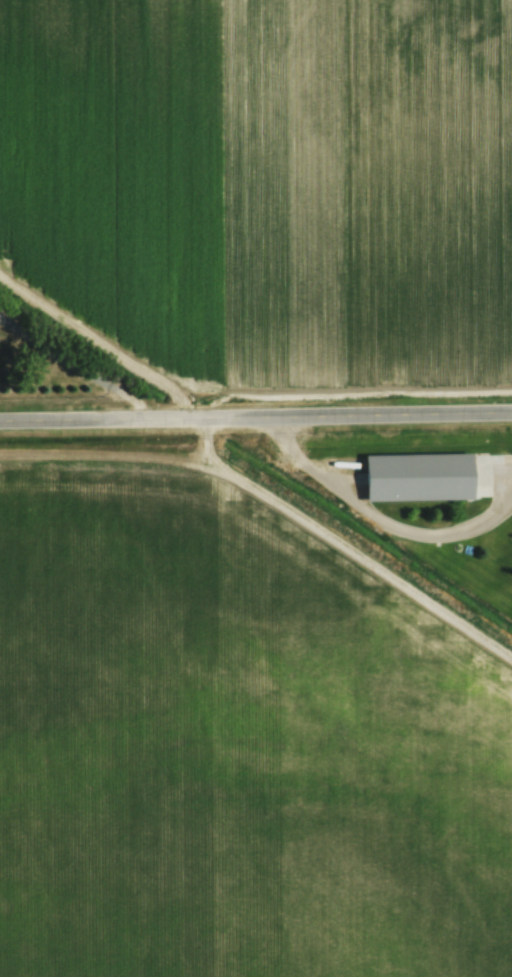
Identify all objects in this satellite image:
road: (255, 414)
building: (421, 476)
road: (381, 517)

